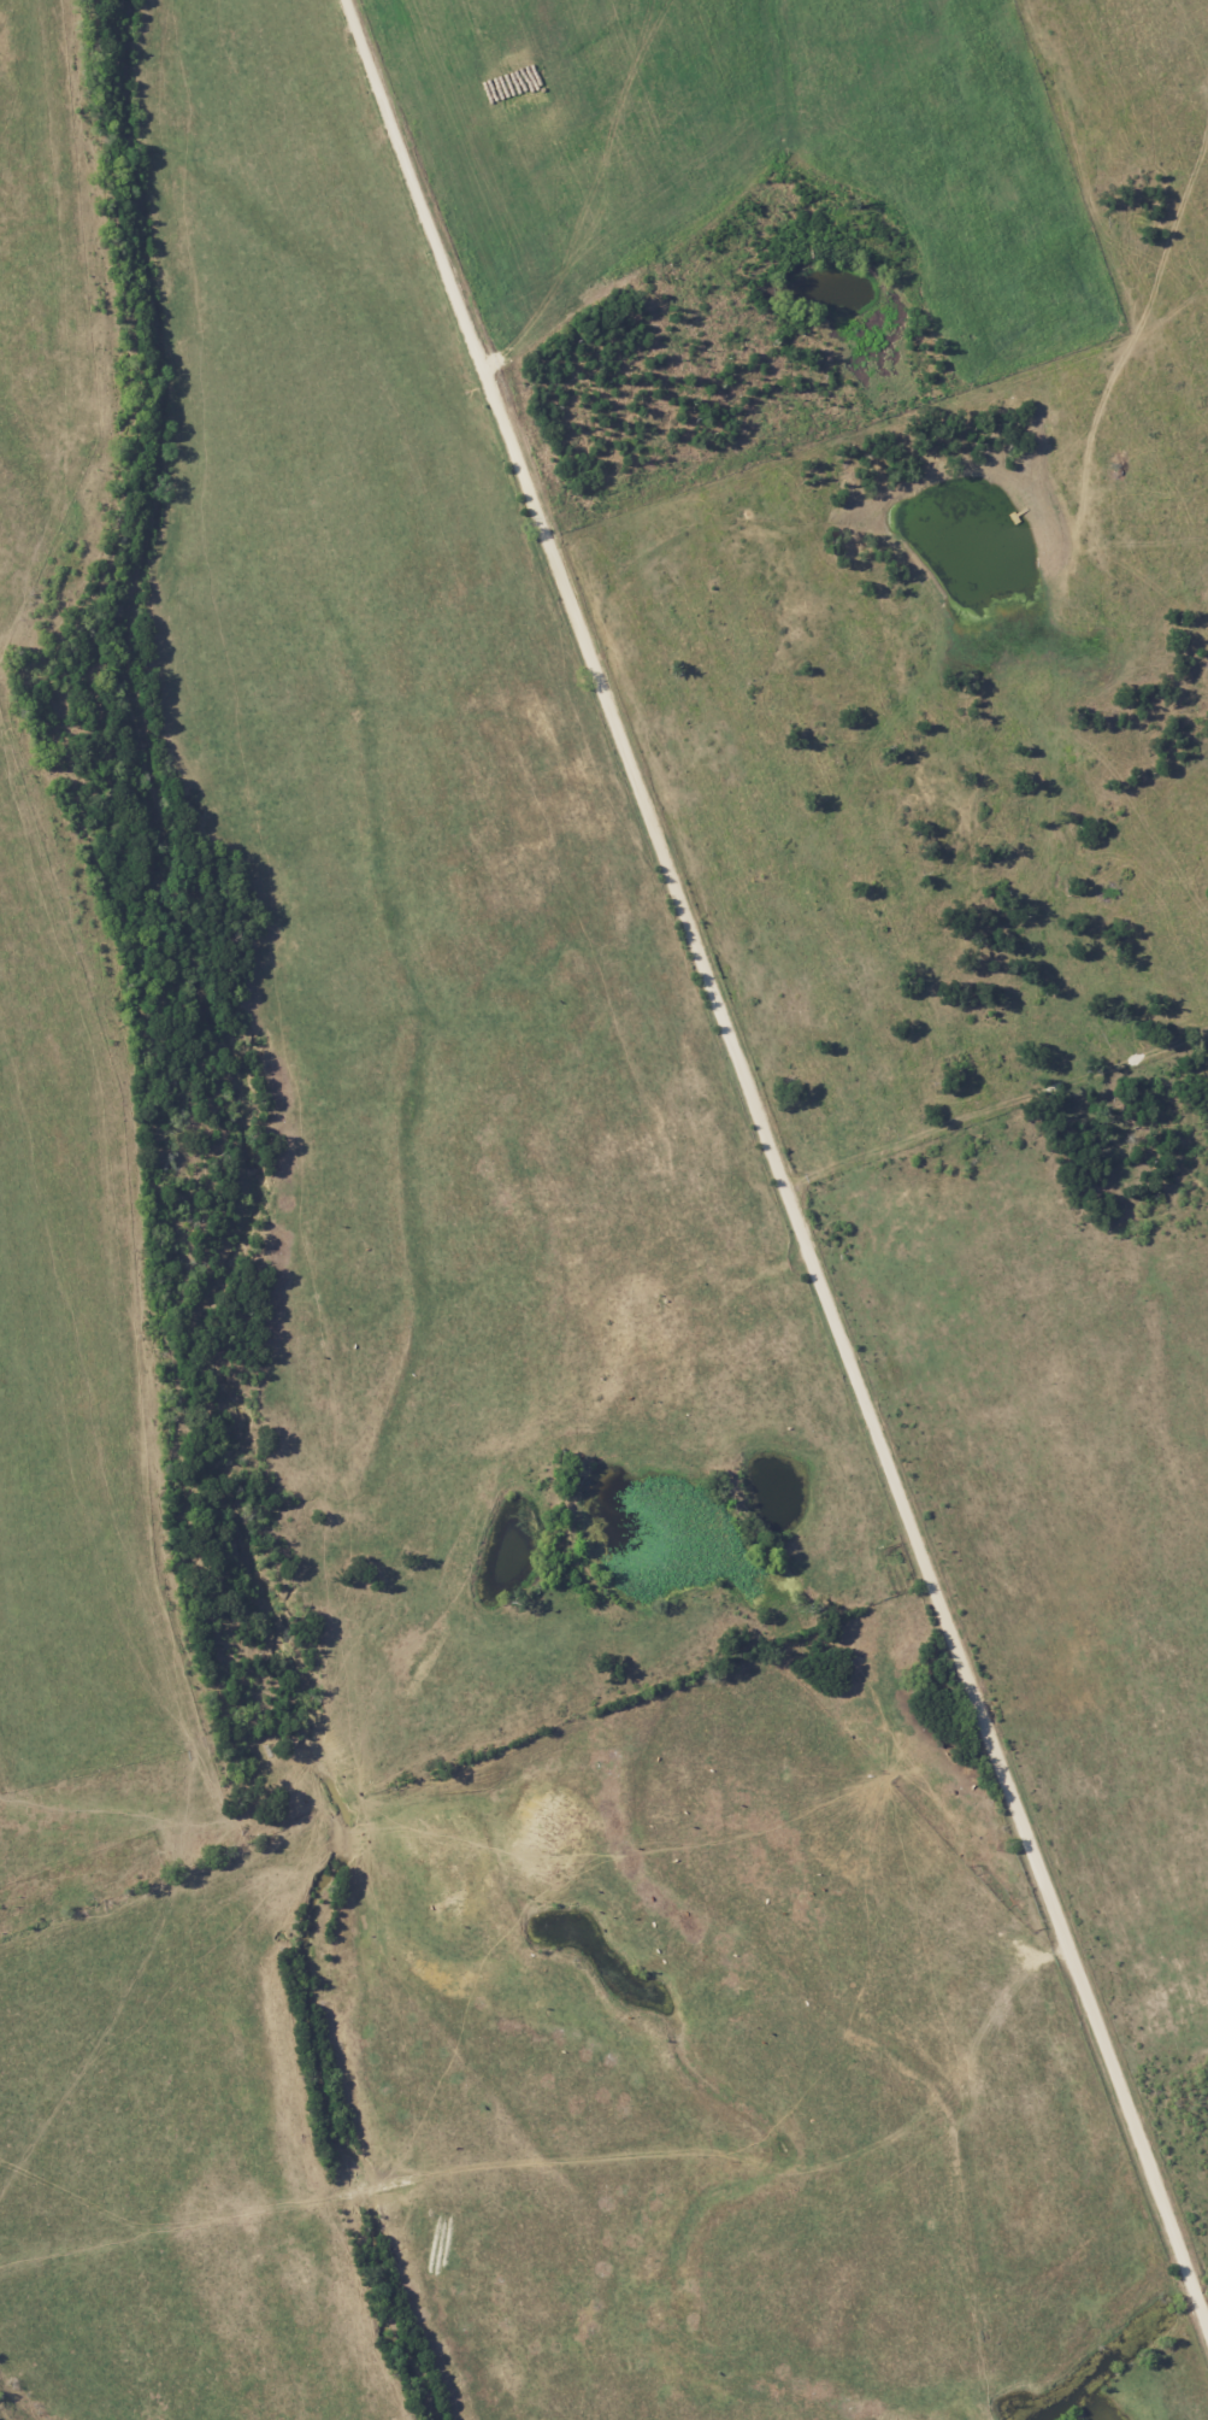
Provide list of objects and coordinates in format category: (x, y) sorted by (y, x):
road: (785, 1167)

